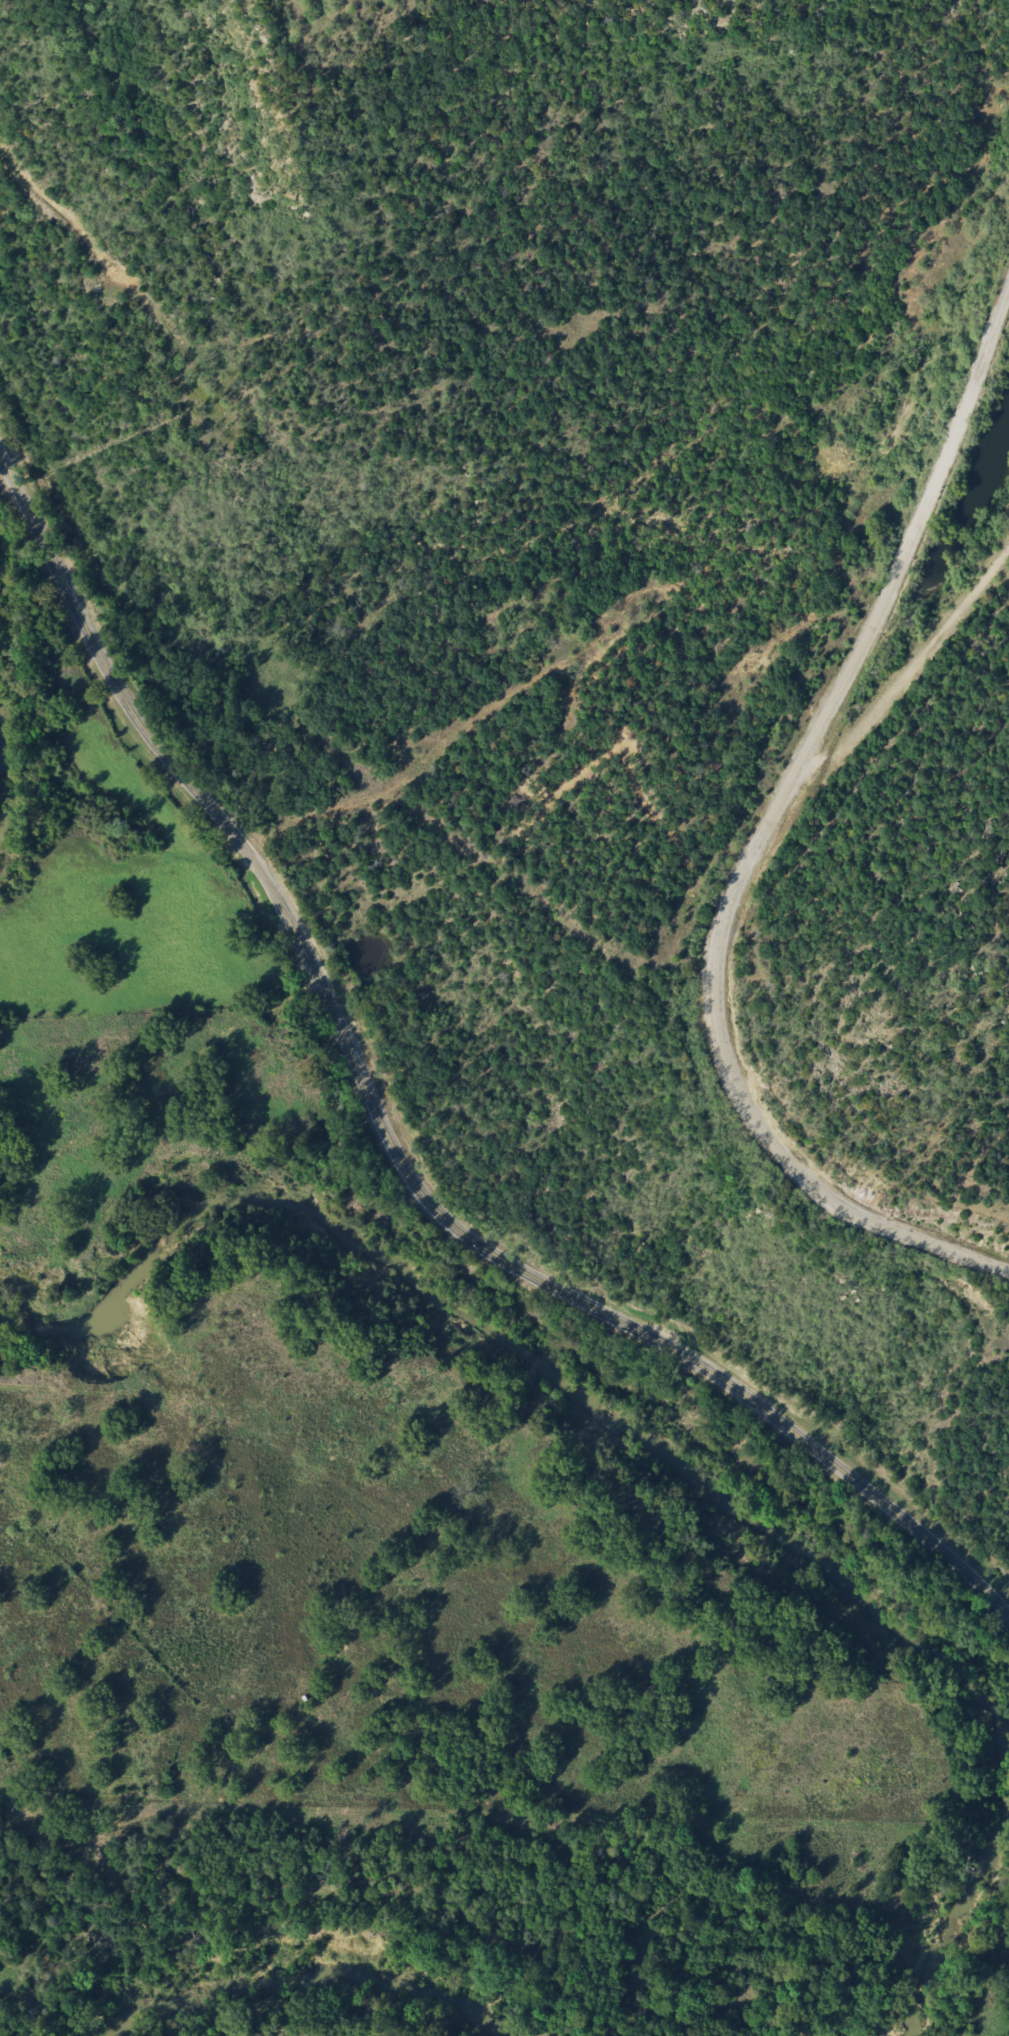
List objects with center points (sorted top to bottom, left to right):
road: (767, 828)
road: (385, 1142)

